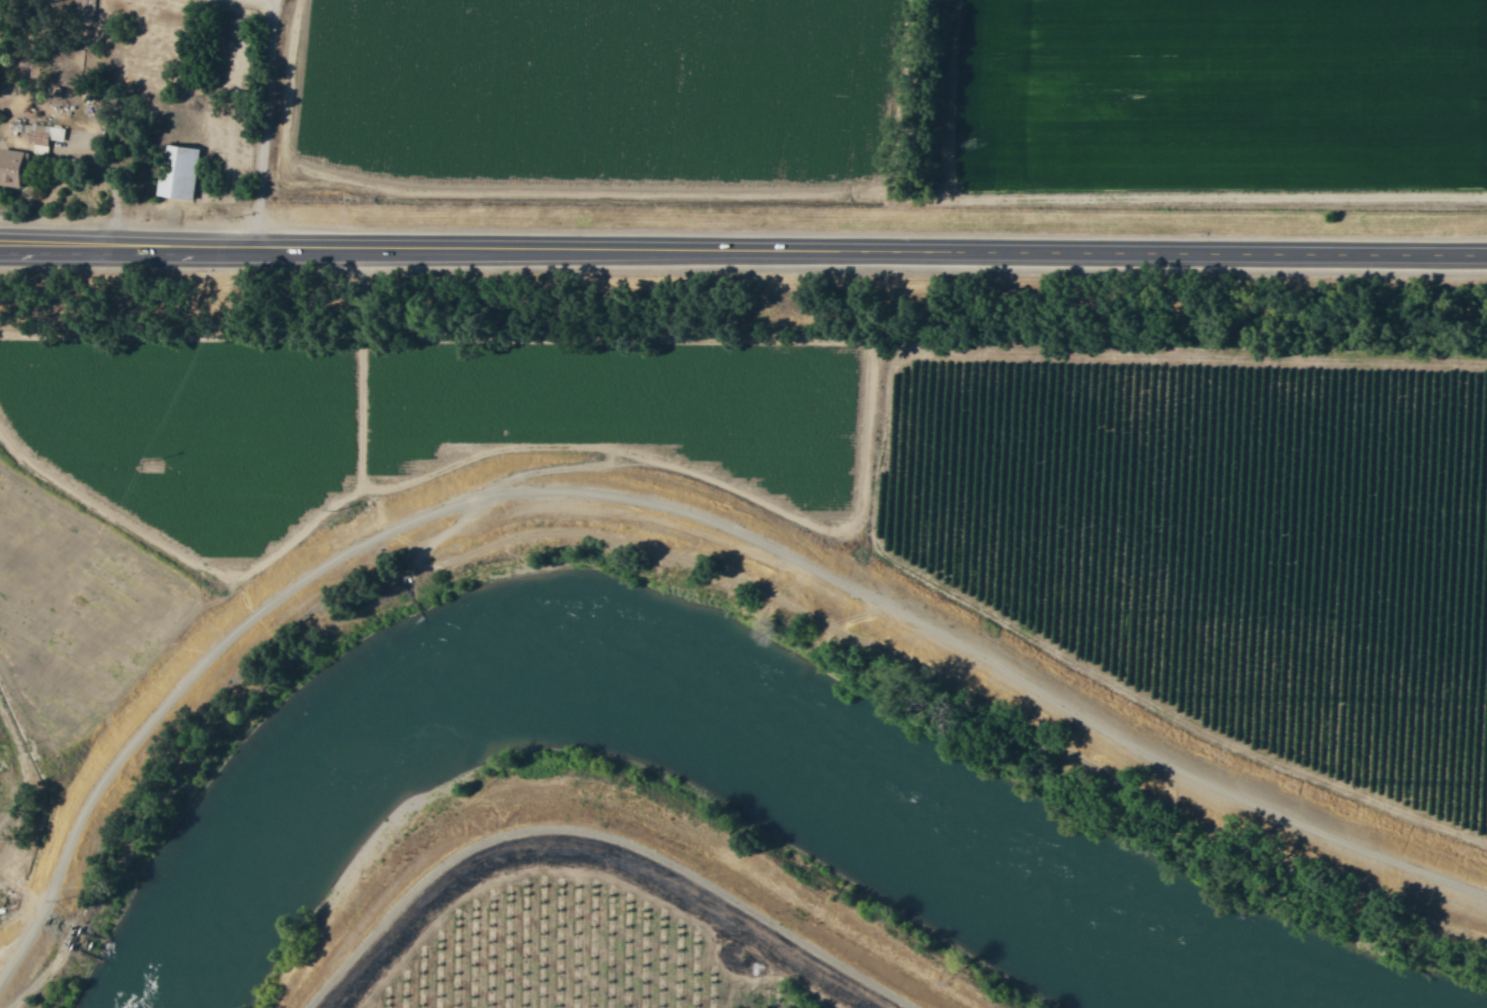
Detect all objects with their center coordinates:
road: (264, 123)
building: (11, 171)
building: (181, 173)
road: (127, 245)
road: (870, 251)
railway: (743, 316)
road: (677, 507)
river: (666, 710)
road: (611, 862)

